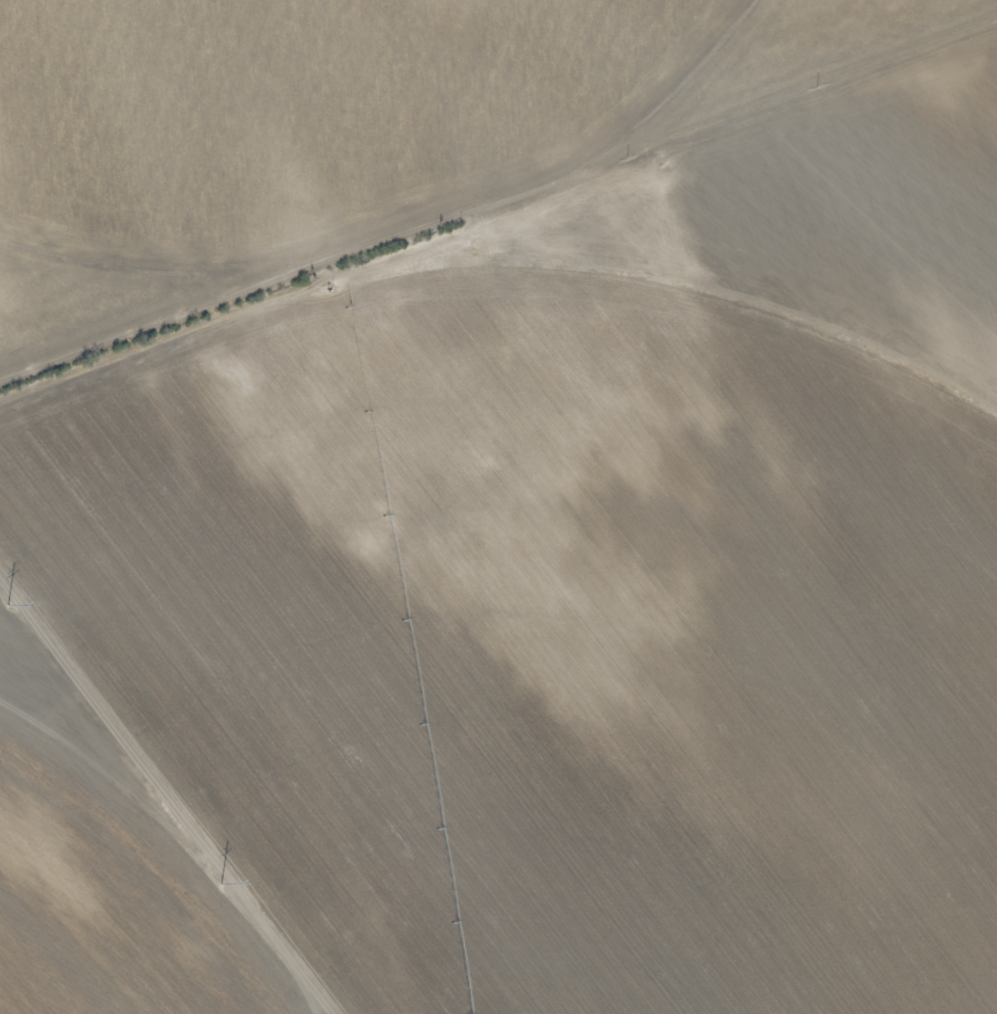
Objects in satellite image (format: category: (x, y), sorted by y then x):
power tower: (2, 597)
power tower: (216, 876)

